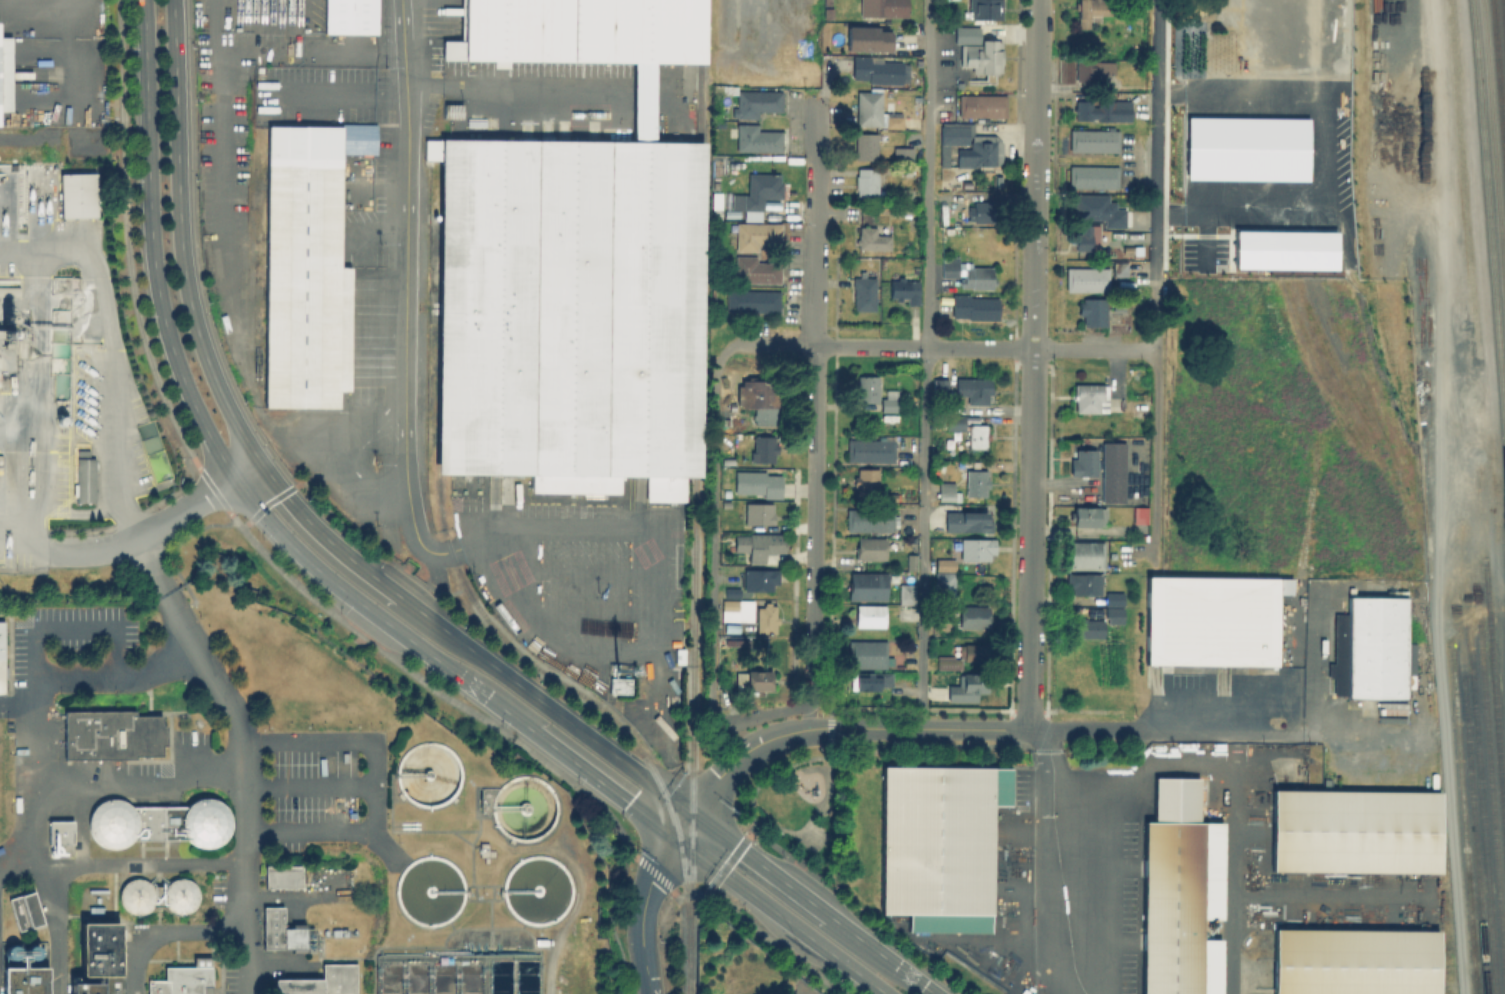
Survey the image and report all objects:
building: (827, 2)
building: (883, 8)
building: (985, 8)
building: (1092, 10)
building: (828, 11)
building: (351, 18)
railway: (1503, 20)
road: (1036, 29)
building: (966, 32)
building: (868, 36)
road: (356, 55)
building: (982, 56)
building: (1090, 68)
building: (879, 69)
building: (5, 76)
railway: (1499, 79)
road: (515, 82)
building: (724, 87)
building: (756, 102)
building: (982, 104)
building: (869, 108)
building: (1102, 109)
road: (1035, 123)
building: (757, 138)
building: (1093, 140)
building: (866, 145)
building: (986, 145)
railway: (1493, 147)
building: (903, 154)
road: (815, 174)
building: (1092, 176)
building: (866, 180)
building: (757, 193)
building: (78, 195)
building: (900, 207)
building: (716, 210)
building: (1099, 210)
building: (980, 211)
building: (730, 213)
building: (756, 234)
building: (1086, 236)
road: (182, 237)
railway: (1490, 237)
building: (872, 238)
road: (1432, 256)
road: (1033, 268)
building: (1119, 268)
building: (756, 270)
building: (306, 272)
building: (573, 273)
building: (968, 273)
road: (1157, 278)
building: (1087, 279)
building: (904, 289)
building: (864, 292)
road: (404, 294)
building: (752, 300)
building: (1118, 305)
building: (974, 306)
building: (1092, 310)
road: (947, 346)
road: (112, 353)
road: (815, 360)
road: (923, 363)
building: (729, 384)
building: (940, 385)
building: (867, 388)
building: (974, 388)
building: (759, 395)
building: (1089, 397)
building: (890, 401)
building: (955, 421)
road: (206, 429)
building: (977, 435)
building: (763, 448)
building: (726, 449)
building: (870, 450)
building: (1083, 462)
building: (1112, 470)
building: (85, 481)
building: (976, 481)
building: (757, 483)
building: (866, 484)
building: (948, 490)
railway: (696, 497)
building: (758, 513)
building: (1140, 514)
building: (1088, 516)
building: (868, 519)
building: (968, 521)
road: (159, 525)
road: (321, 533)
road: (1030, 538)
road: (21, 539)
building: (758, 544)
building: (870, 548)
building: (976, 552)
building: (1086, 556)
building: (911, 562)
building: (945, 564)
road: (711, 575)
building: (759, 579)
building: (1083, 583)
building: (944, 584)
building: (867, 586)
building: (731, 592)
building: (907, 593)
road: (812, 598)
building: (1113, 598)
building: (736, 610)
building: (1113, 614)
building: (869, 615)
building: (974, 616)
building: (765, 618)
building: (1210, 619)
building: (730, 626)
building: (1087, 628)
road: (75, 632)
building: (730, 641)
building: (1367, 648)
building: (869, 654)
building: (679, 655)
building: (961, 657)
building: (3, 660)
railway: (1491, 664)
building: (753, 679)
building: (870, 680)
building: (967, 687)
road: (36, 694)
building: (733, 694)
railway: (590, 698)
road: (18, 701)
road: (544, 704)
road: (928, 727)
road: (1082, 729)
road: (1290, 734)
building: (115, 737)
road: (747, 749)
road: (244, 752)
railway: (1489, 759)
road: (602, 779)
road: (759, 782)
road: (372, 786)
road: (309, 787)
road: (1234, 789)
road: (142, 792)
railway: (1482, 807)
park: (796, 810)
wastewater plant: (275, 812)
traffic signals: (692, 815)
railway: (1462, 819)
building: (208, 824)
building: (114, 826)
building: (1353, 830)
building: (62, 834)
railway: (1475, 835)
traffic signals: (679, 836)
building: (937, 843)
road: (1048, 851)
road: (758, 864)
road: (130, 869)
road: (722, 871)
building: (284, 877)
building: (1179, 892)
building: (137, 898)
building: (183, 898)
road: (644, 898)
road: (797, 926)
road: (53, 932)
building: (286, 933)
road: (169, 934)
building: (106, 949)
road: (881, 953)
building: (1353, 961)
road: (857, 971)
building: (29, 981)
building: (178, 981)
building: (321, 982)
road: (1058, 987)
building: (93, 988)

